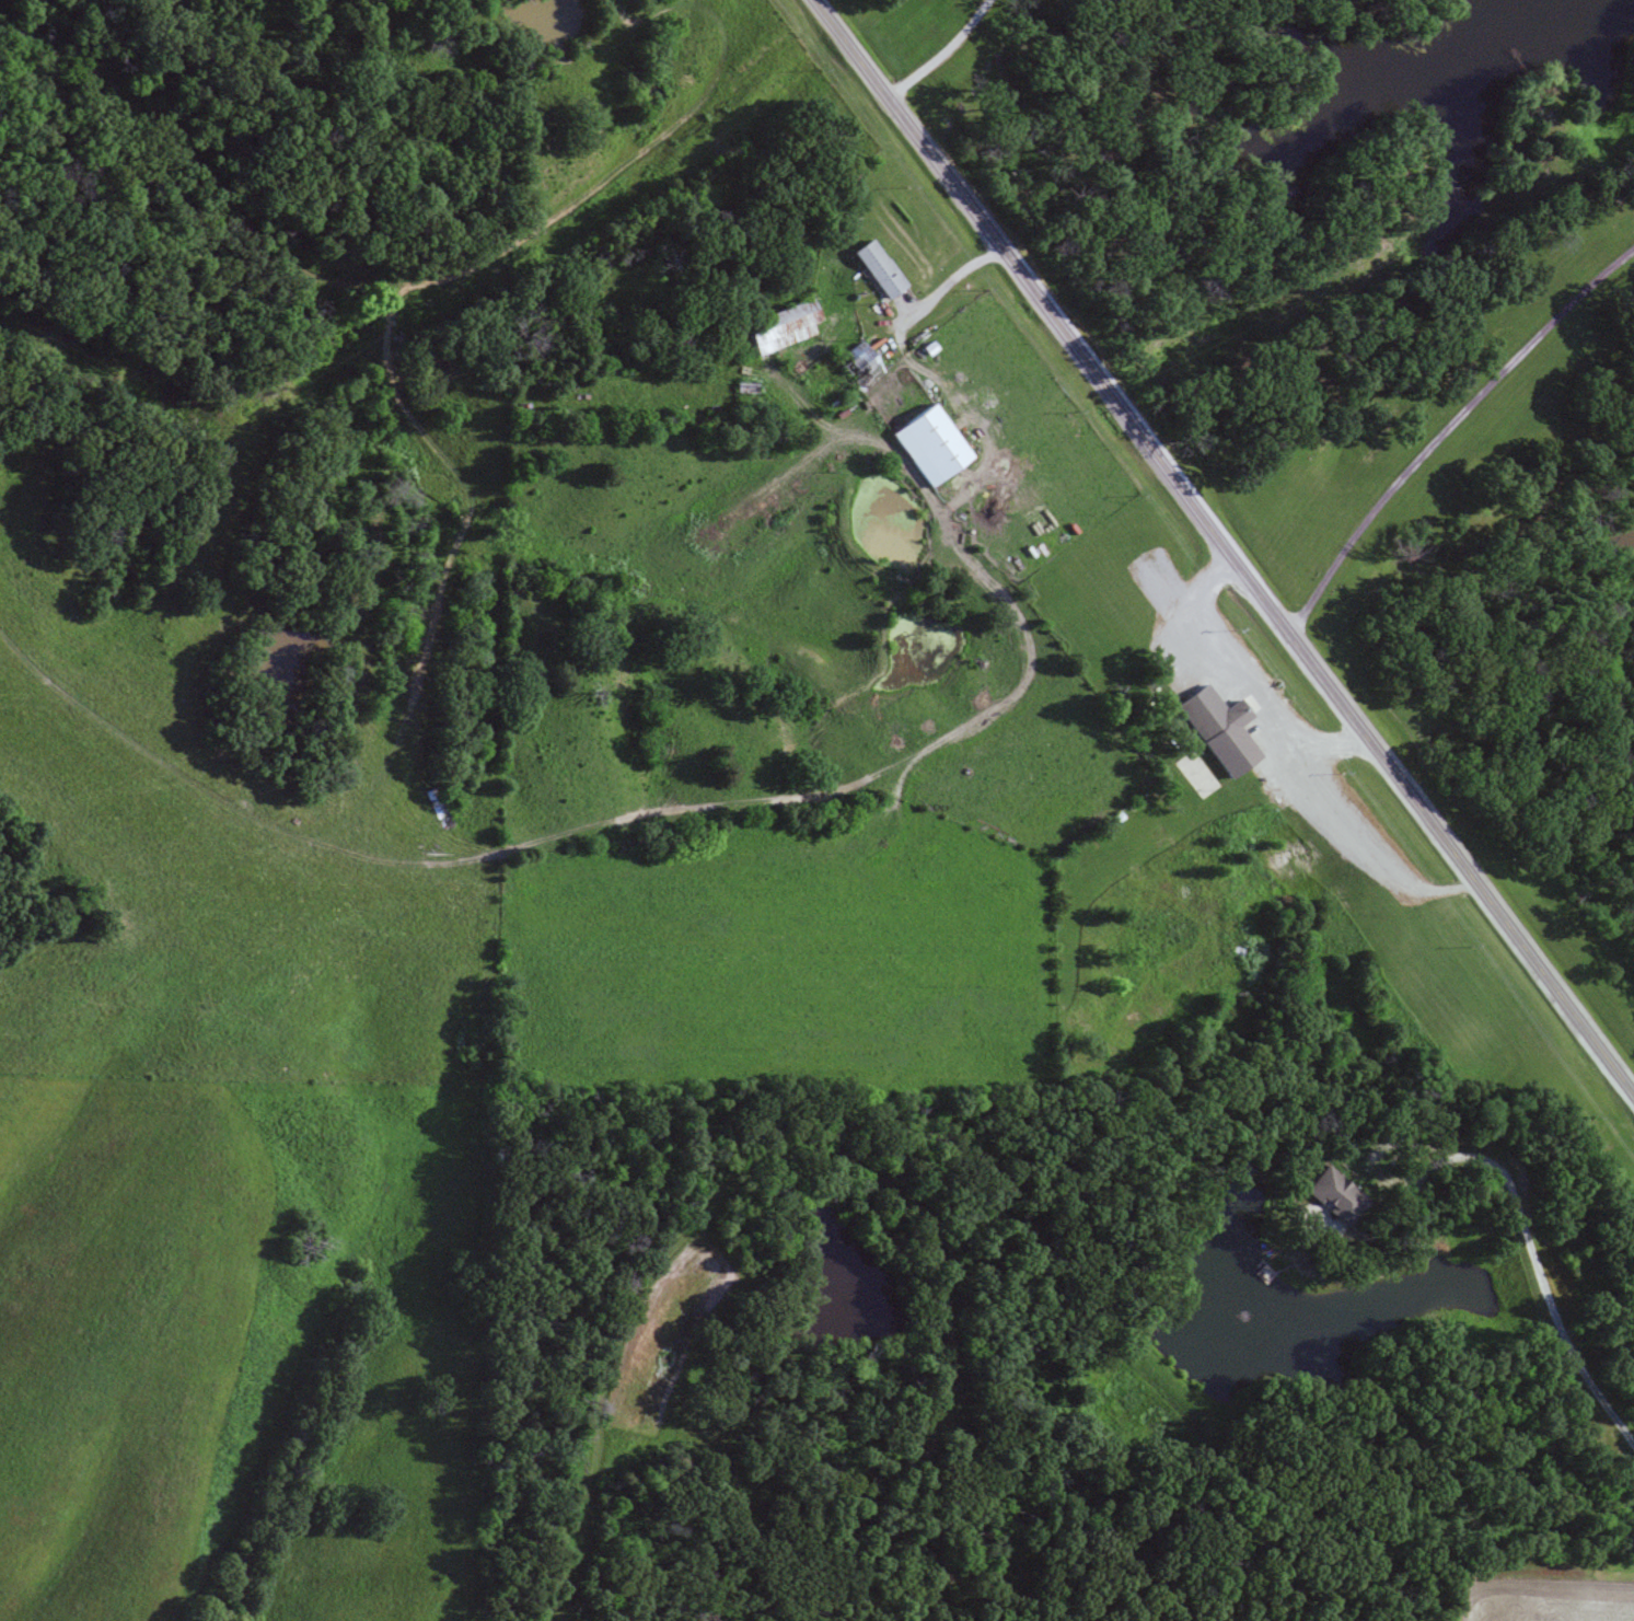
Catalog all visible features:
building: (879, 268)
building: (784, 325)
building: (859, 363)
building: (930, 443)
road: (1219, 551)
building: (1224, 725)
building: (434, 808)
building: (1335, 1194)

